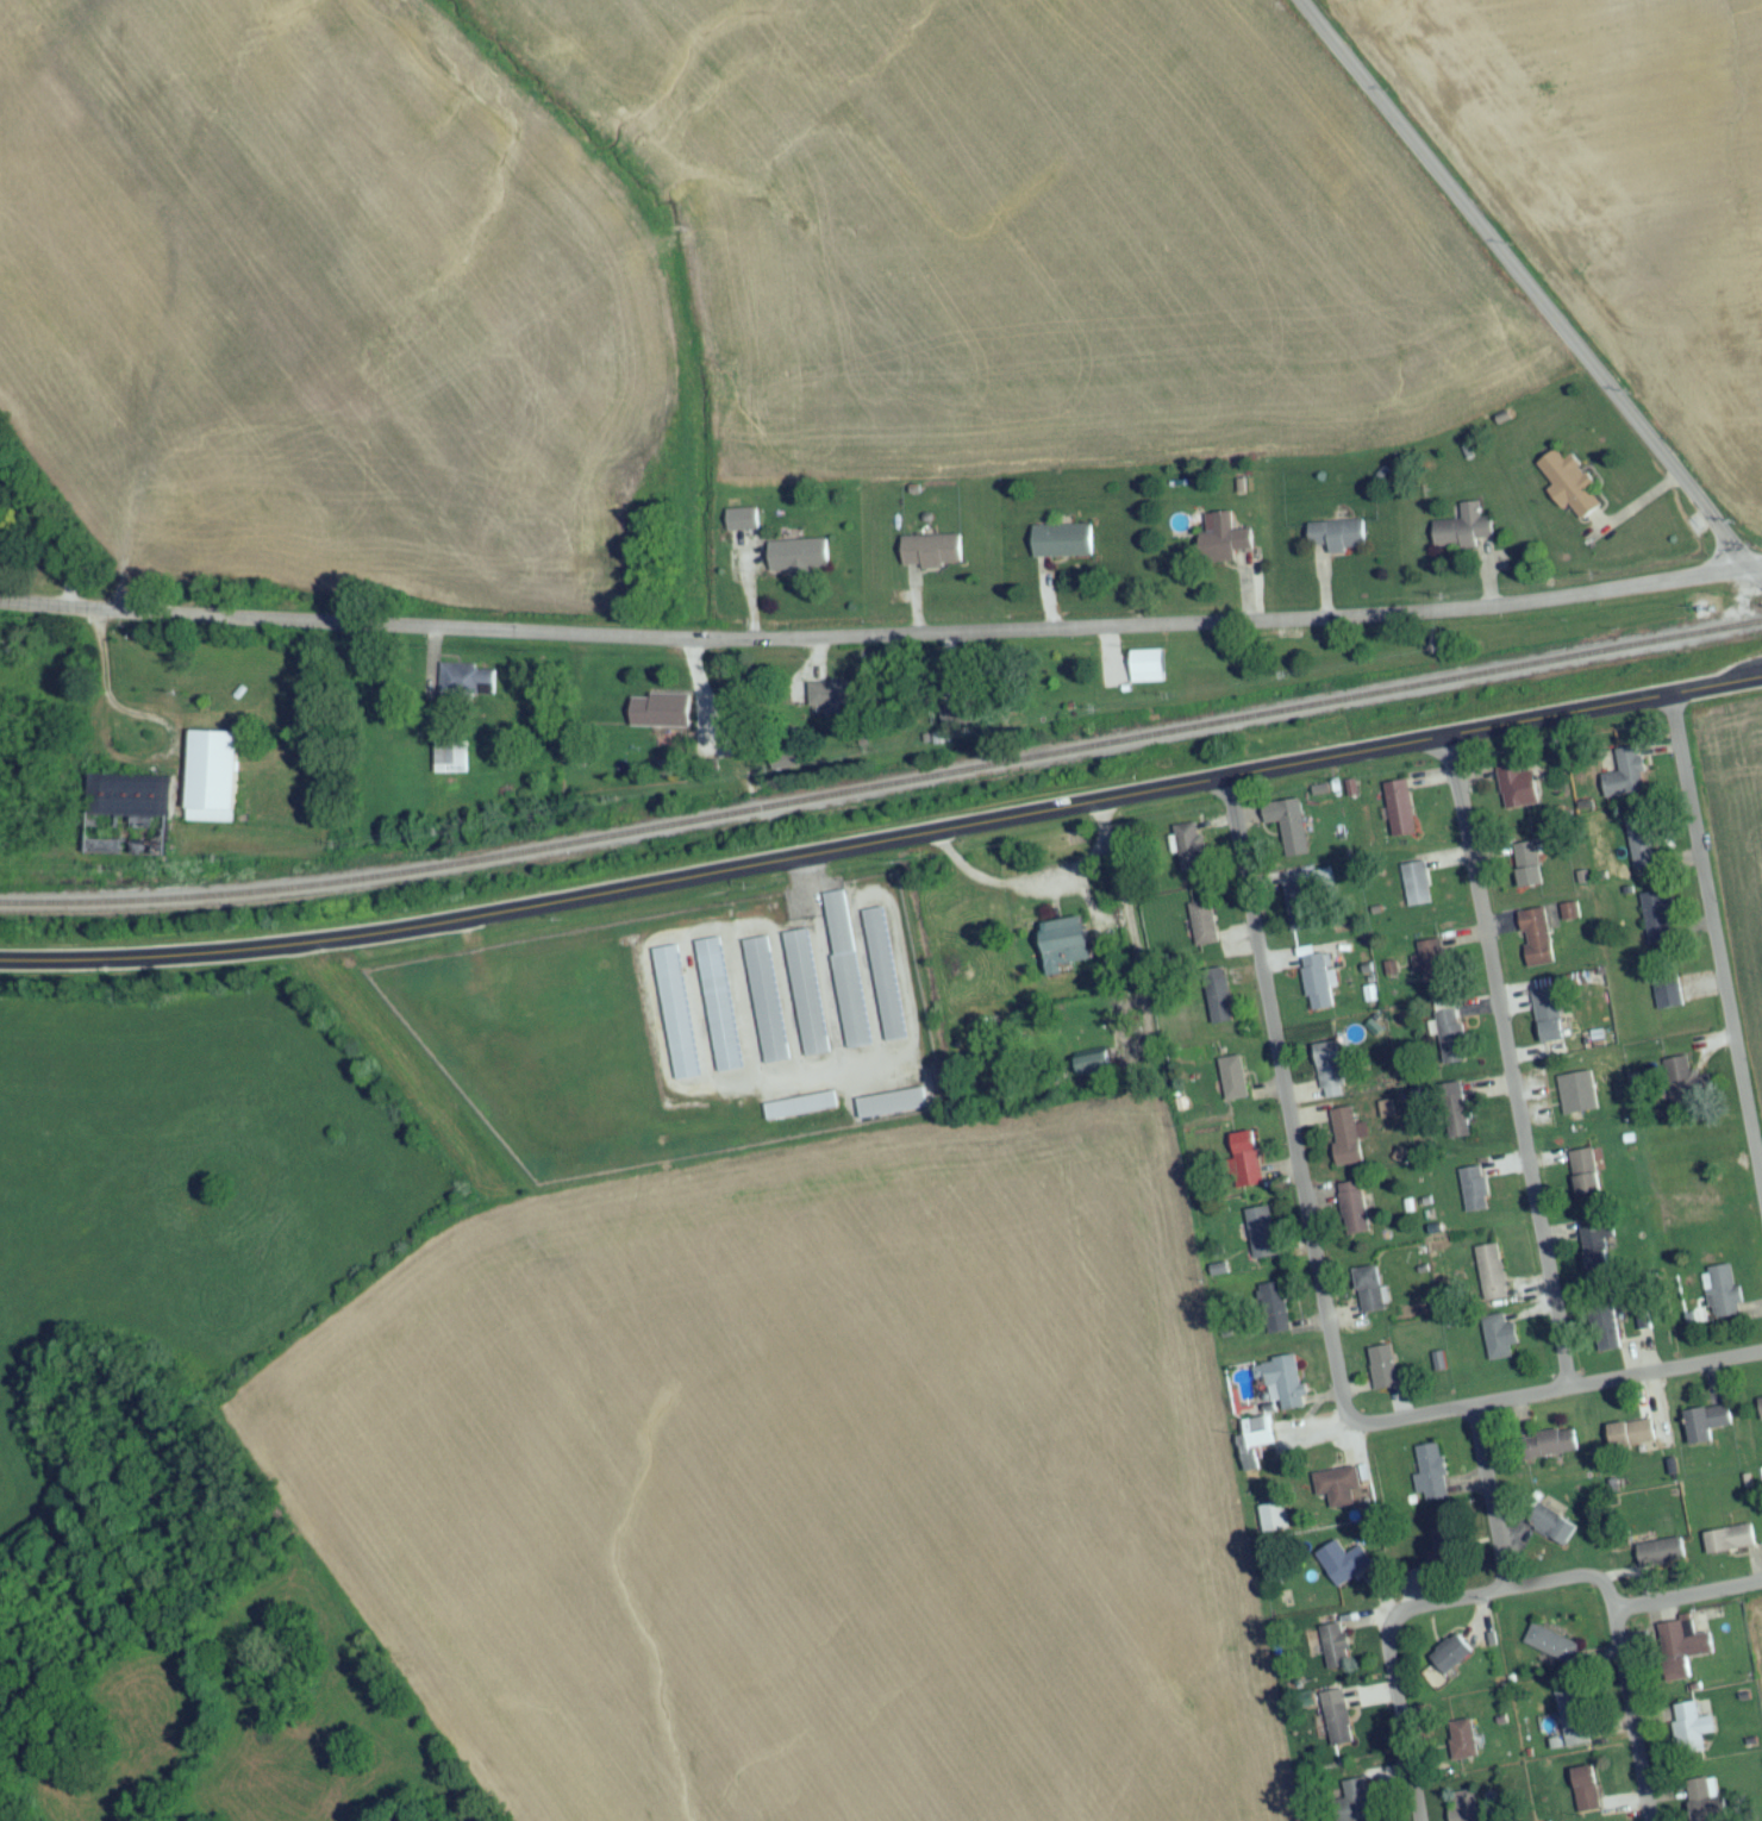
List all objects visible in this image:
road: (1436, 174)
road: (1658, 459)
building: (1570, 489)
building: (742, 527)
building: (1463, 536)
building: (1337, 542)
building: (1225, 545)
building: (1061, 546)
road: (44, 553)
building: (931, 557)
building: (796, 563)
road: (1752, 568)
road: (1752, 580)
road: (873, 643)
building: (1146, 672)
building: (467, 686)
building: (658, 718)
building: (450, 764)
building: (1624, 781)
building: (211, 783)
railway: (883, 790)
building: (1516, 795)
building: (1399, 815)
building: (1288, 837)
road: (883, 846)
building: (1641, 850)
building: (1191, 855)
building: (1526, 871)
building: (1414, 888)
road: (1036, 889)
building: (1299, 913)
building: (1657, 922)
building: (1202, 931)
road: (1135, 932)
building: (1536, 944)
road: (1716, 945)
building: (1063, 951)
building: (1431, 968)
building: (845, 976)
building: (883, 981)
building: (1316, 987)
building: (806, 999)
building: (1668, 1000)
building: (766, 1007)
building: (719, 1010)
building: (1219, 1012)
building: (1549, 1021)
building: (1450, 1043)
road: (1506, 1066)
building: (1329, 1071)
building: (1093, 1072)
building: (1232, 1084)
building: (1686, 1090)
building: (1576, 1100)
road: (1287, 1106)
building: (883, 1110)
building: (800, 1112)
building: (1454, 1119)
building: (1344, 1143)
building: (1245, 1166)
building: (1585, 1178)
building: (1473, 1195)
building: (1355, 1214)
building: (1261, 1239)
building: (1598, 1254)
building: (1491, 1278)
building: (1370, 1297)
building: (1722, 1299)
building: (1606, 1334)
building: (1499, 1344)
building: (1383, 1375)
building: (1282, 1389)
road: (1554, 1395)
building: (1760, 1410)
building: (1705, 1429)
road: (1316, 1434)
building: (1631, 1444)
building: (1254, 1445)
building: (1552, 1450)
building: (1430, 1479)
building: (1343, 1494)
road: (1487, 1503)
building: (1273, 1523)
building: (1550, 1532)
building: (1445, 1546)
building: (1729, 1546)
building: (1660, 1559)
building: (1343, 1569)
road: (1583, 1581)
building: (1550, 1650)
building: (1335, 1653)
building: (1681, 1656)
building: (1451, 1663)
road: (1633, 1719)
road: (1400, 1720)
building: (1573, 1725)
building: (1691, 1734)
building: (1338, 1735)
building: (1462, 1746)
building: (1586, 1796)
building: (1704, 1802)
building: (1355, 1803)
building: (1463, 1809)

